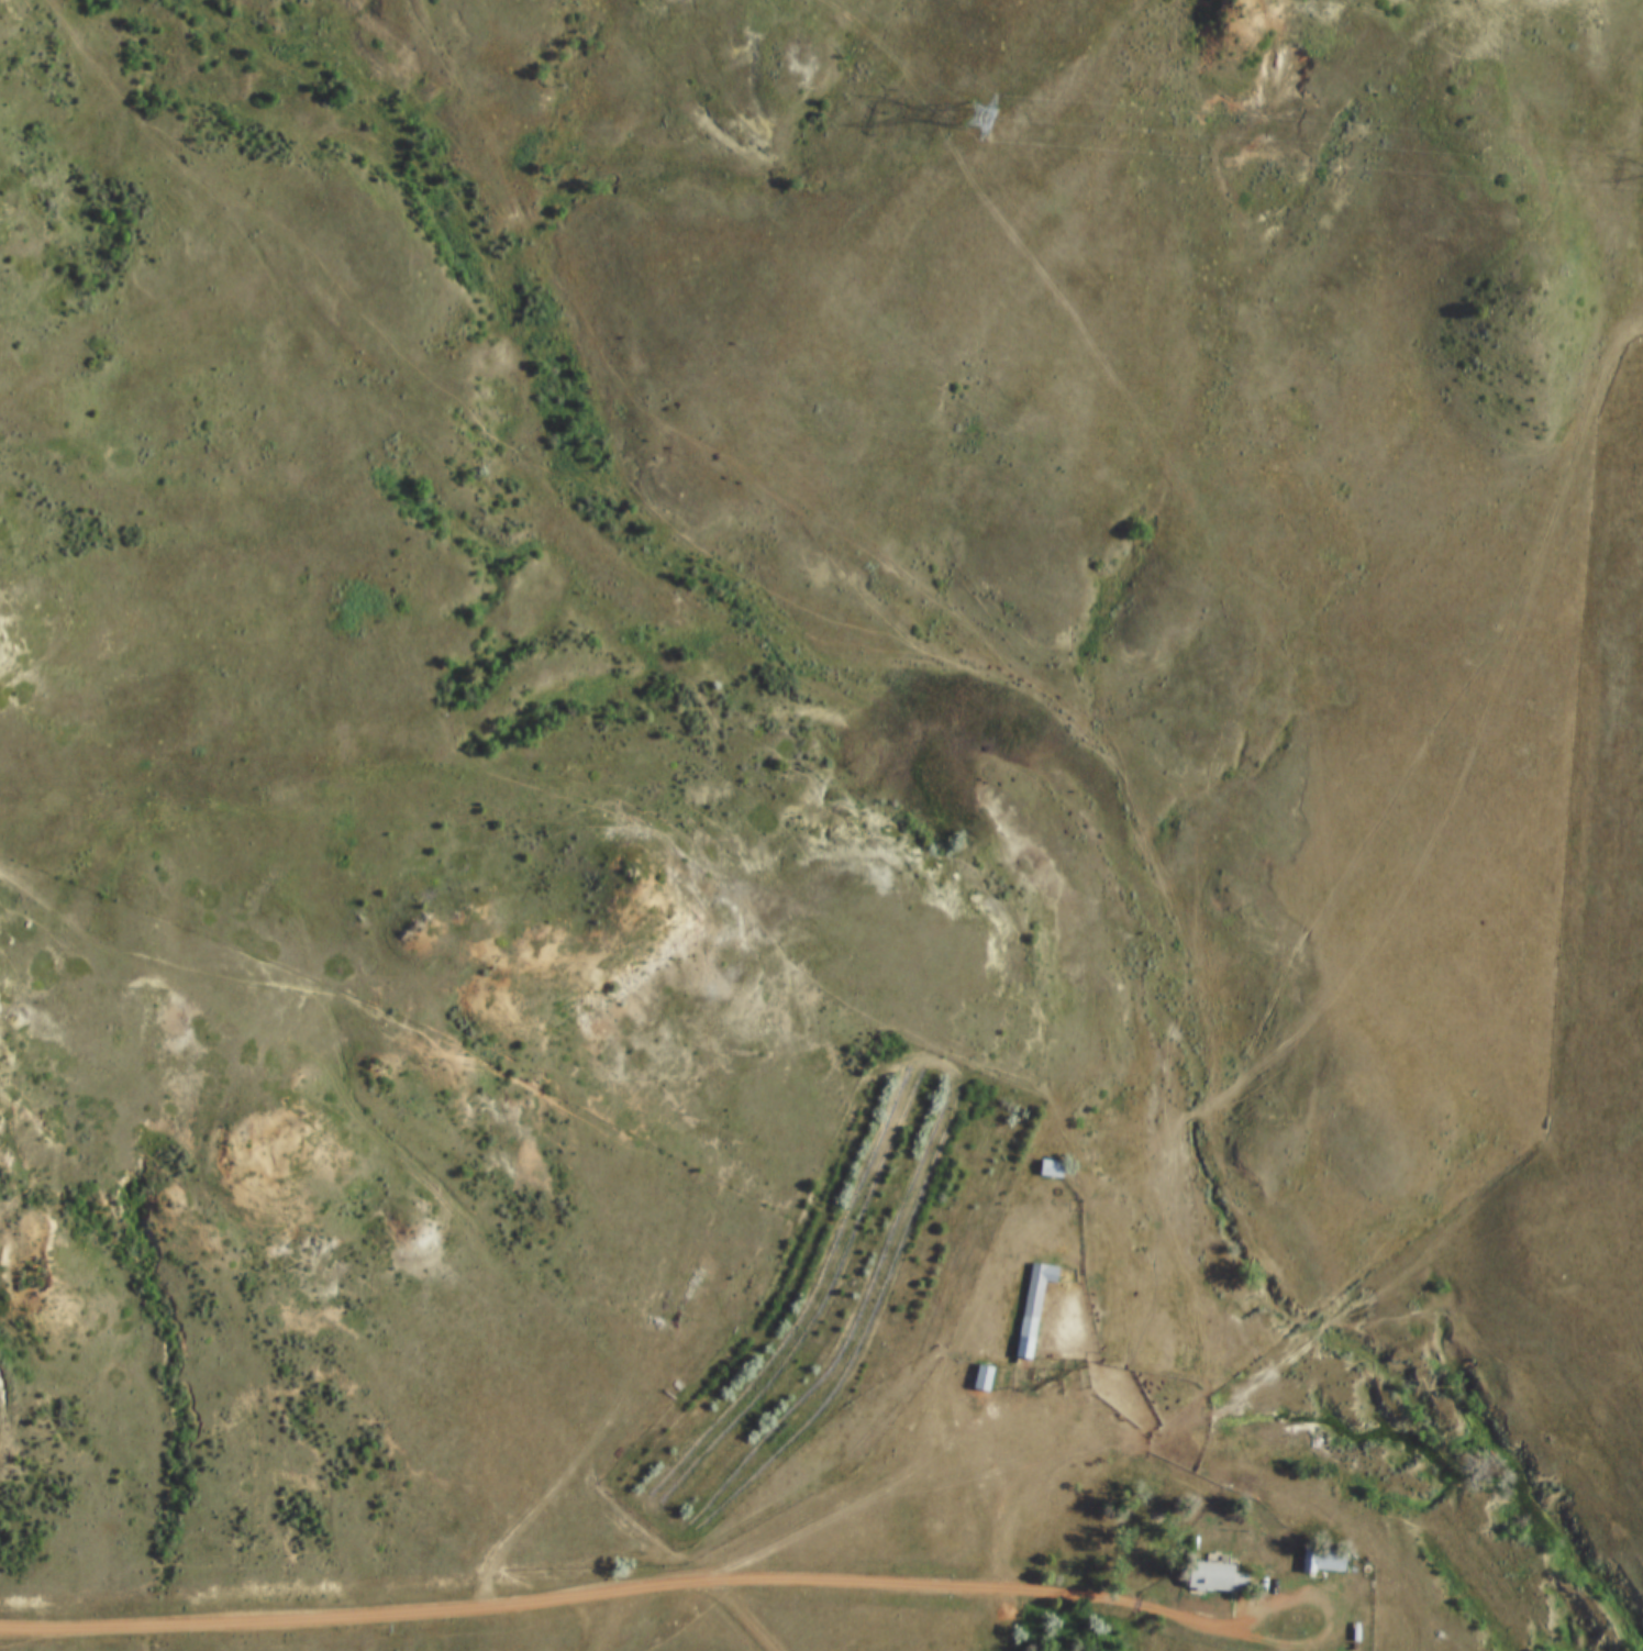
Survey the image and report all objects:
power tower: (975, 108)
building: (1052, 1170)
building: (1033, 1307)
building: (983, 1378)
building: (1324, 1562)
building: (1217, 1578)
road: (619, 1591)
road: (1380, 1598)
road: (740, 1614)
road: (1326, 1617)
road: (601, 1621)

